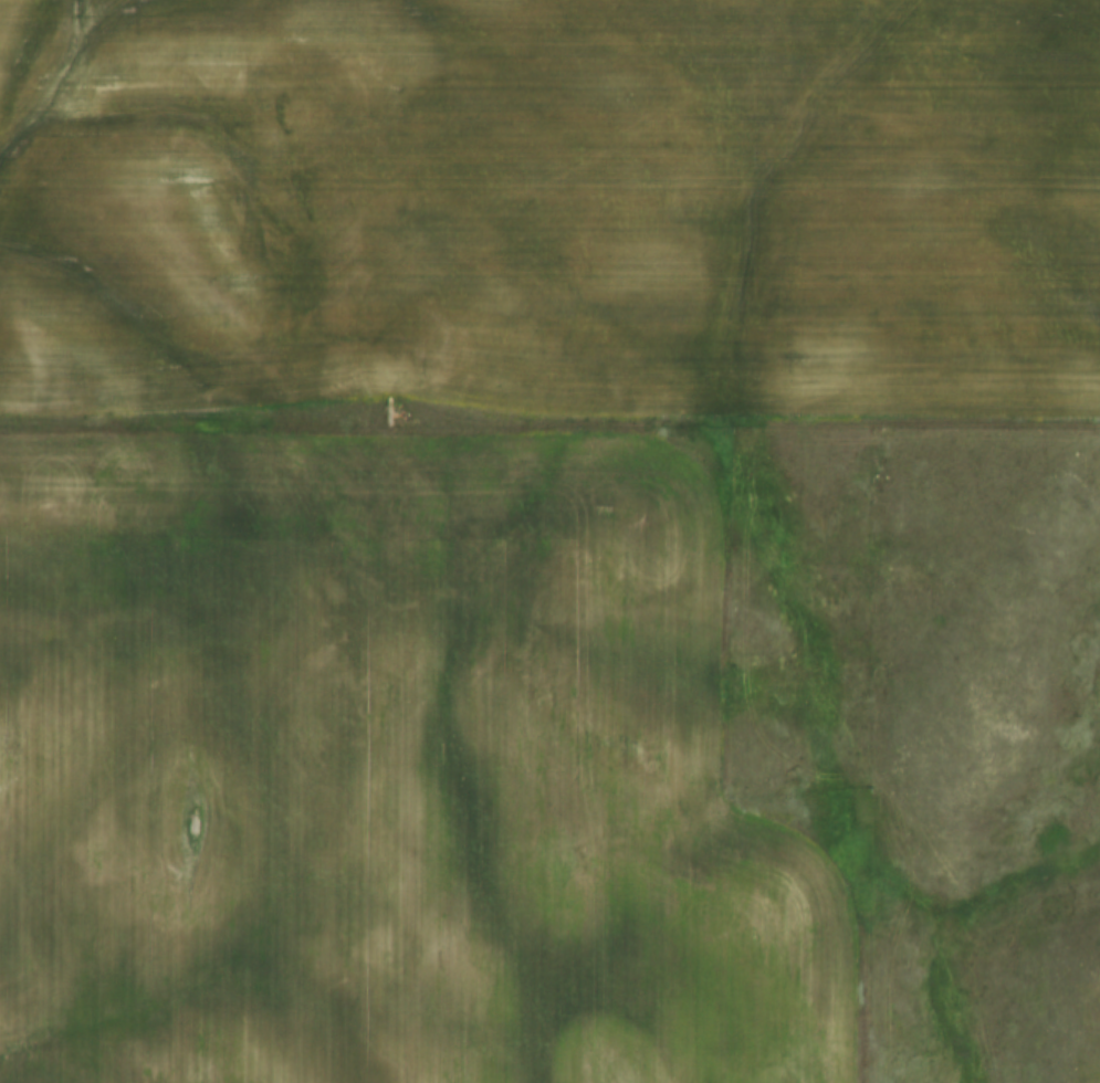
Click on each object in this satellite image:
road: (345, 428)

